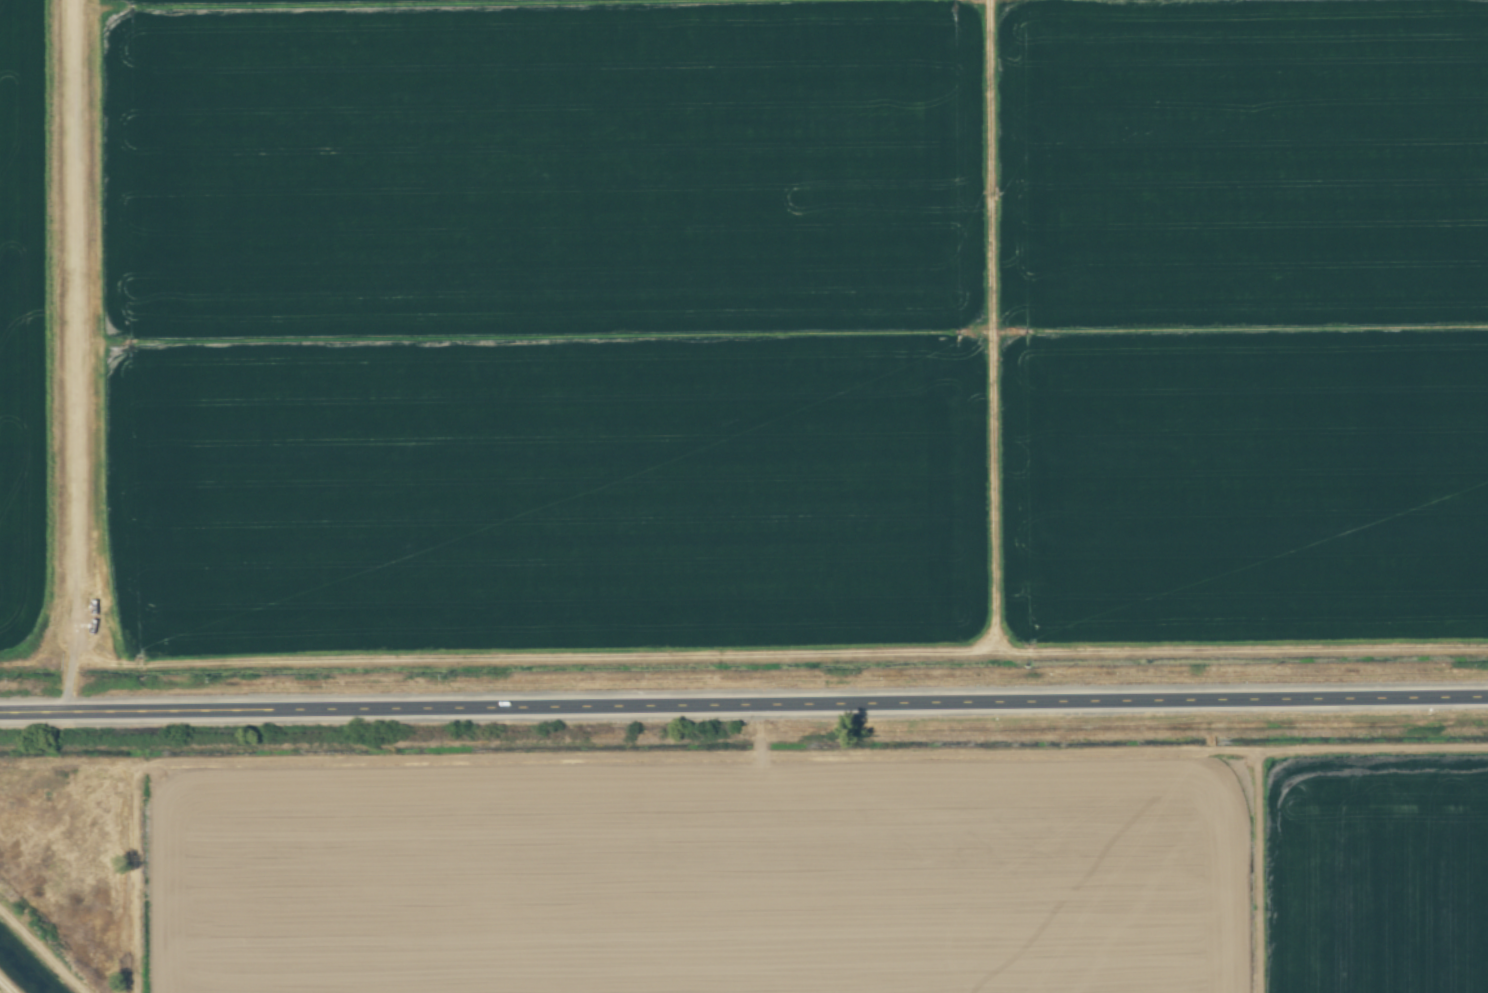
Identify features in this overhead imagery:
road: (743, 706)

